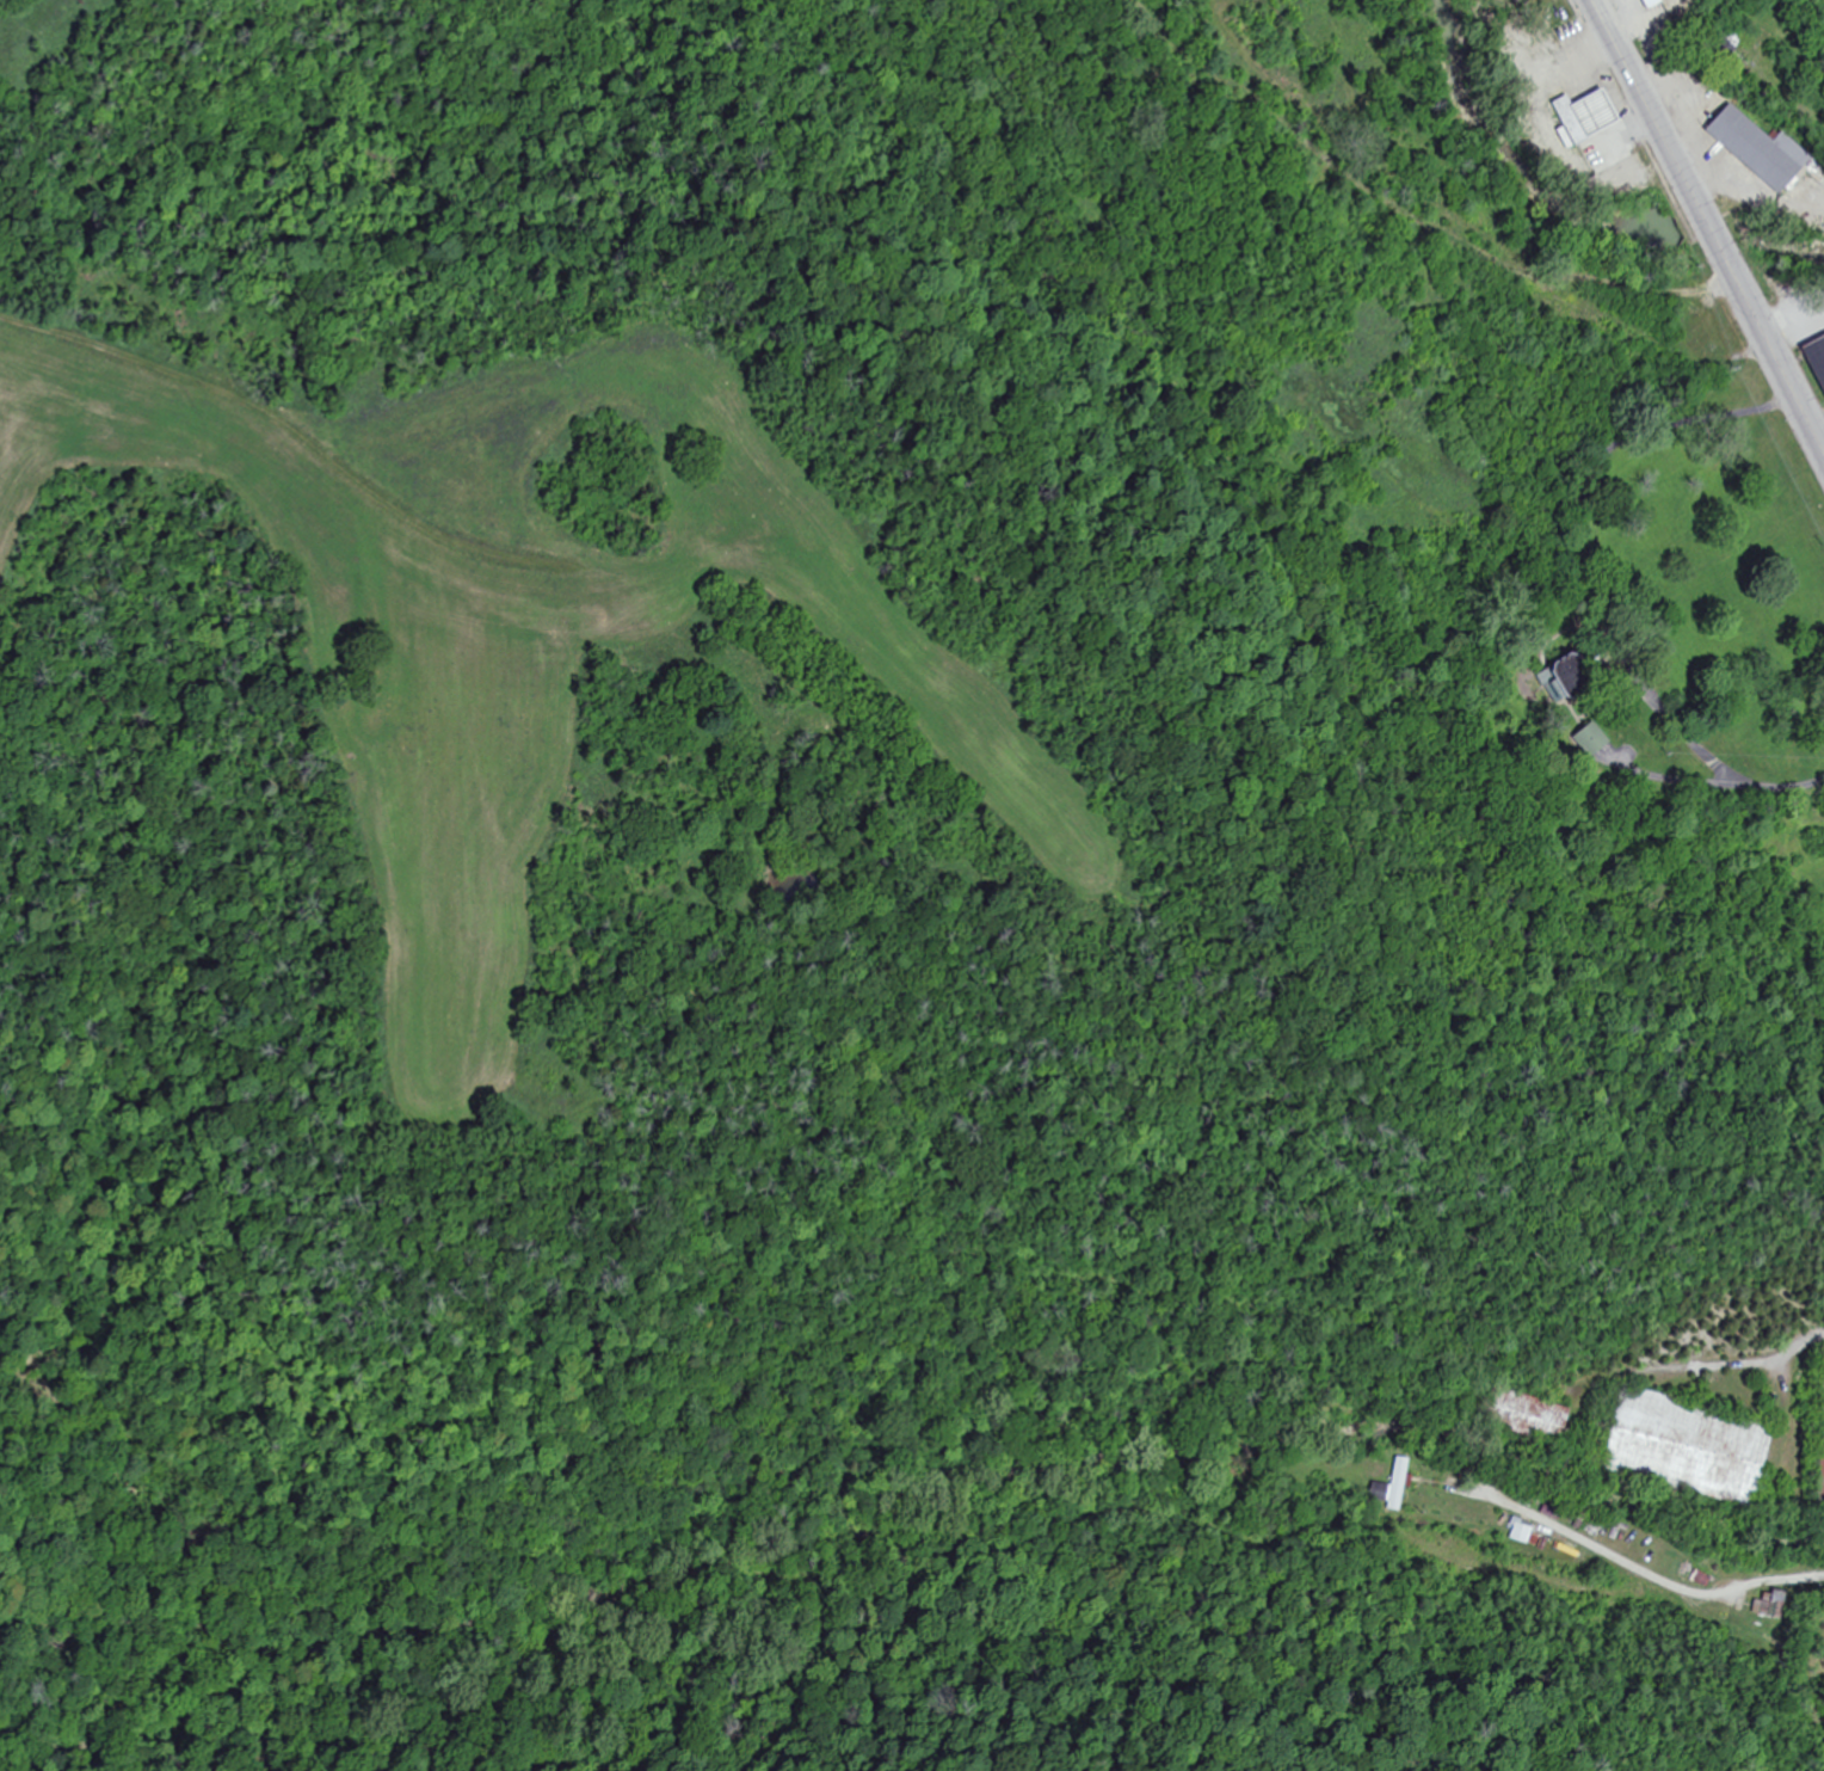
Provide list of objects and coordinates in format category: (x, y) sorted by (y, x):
building: (1601, 111)
building: (1575, 119)
building: (1763, 149)
road: (1455, 185)
road: (1708, 225)
building: (1818, 357)

